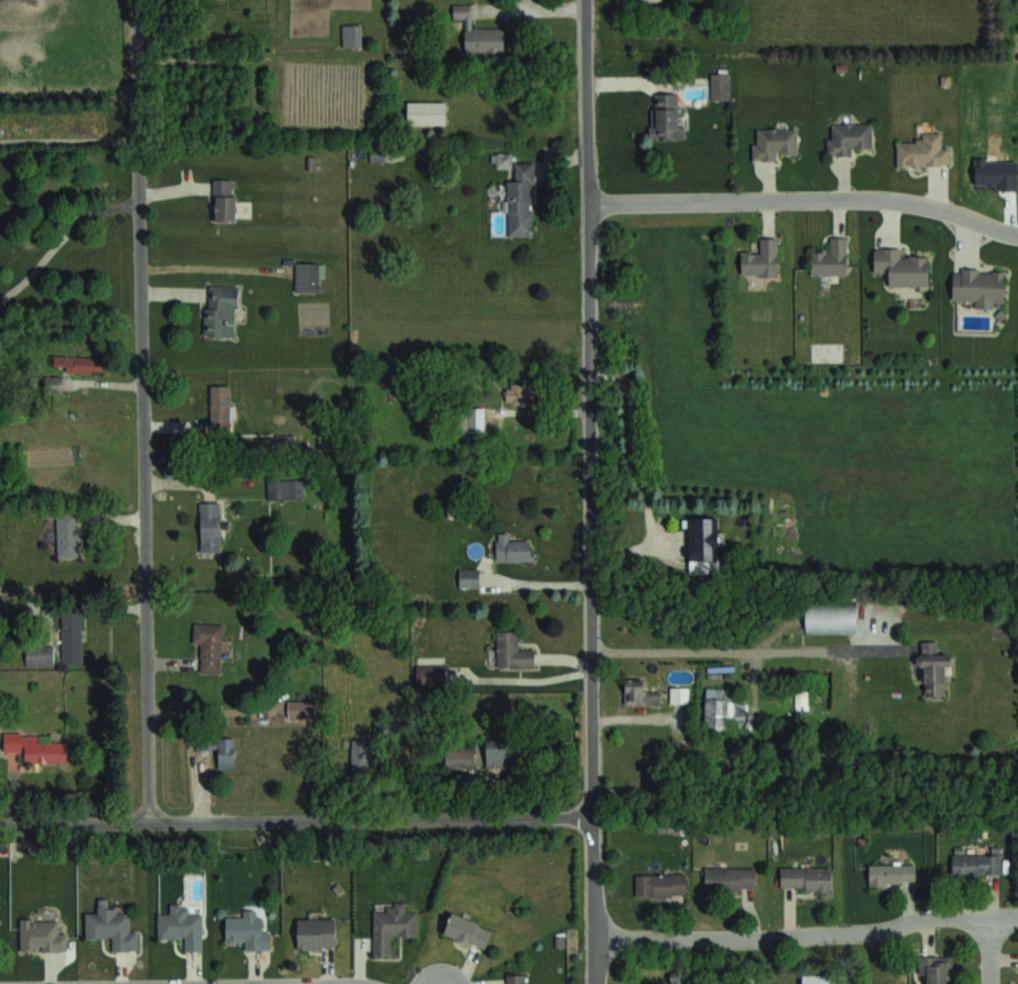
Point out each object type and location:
building: (478, 32)
building: (351, 35)
building: (425, 112)
building: (664, 117)
building: (848, 137)
building: (774, 143)
building: (923, 152)
building: (223, 199)
road: (806, 200)
building: (520, 201)
road: (62, 243)
building: (830, 258)
building: (761, 259)
building: (901, 268)
building: (308, 276)
building: (978, 287)
building: (220, 310)
building: (522, 395)
building: (220, 407)
road: (142, 410)
building: (473, 419)
crop: (824, 436)
building: (284, 488)
road: (590, 491)
building: (209, 526)
building: (67, 535)
building: (703, 544)
building: (513, 548)
building: (468, 577)
road: (535, 584)
building: (830, 618)
building: (71, 637)
building: (209, 646)
road: (750, 649)
building: (512, 651)
building: (39, 655)
building: (933, 669)
building: (639, 693)
building: (679, 695)
building: (301, 708)
building: (722, 708)
building: (36, 749)
building: (218, 749)
building: (502, 752)
building: (362, 756)
building: (459, 756)
road: (295, 820)
building: (977, 863)
building: (892, 874)
building: (729, 878)
building: (805, 878)
building: (661, 884)
building: (111, 926)
building: (181, 926)
building: (392, 926)
building: (248, 930)
building: (467, 930)
building: (316, 933)
road: (806, 933)
building: (41, 935)
road: (998, 949)
building: (935, 968)
building: (516, 978)
building: (678, 978)
building: (818, 978)

